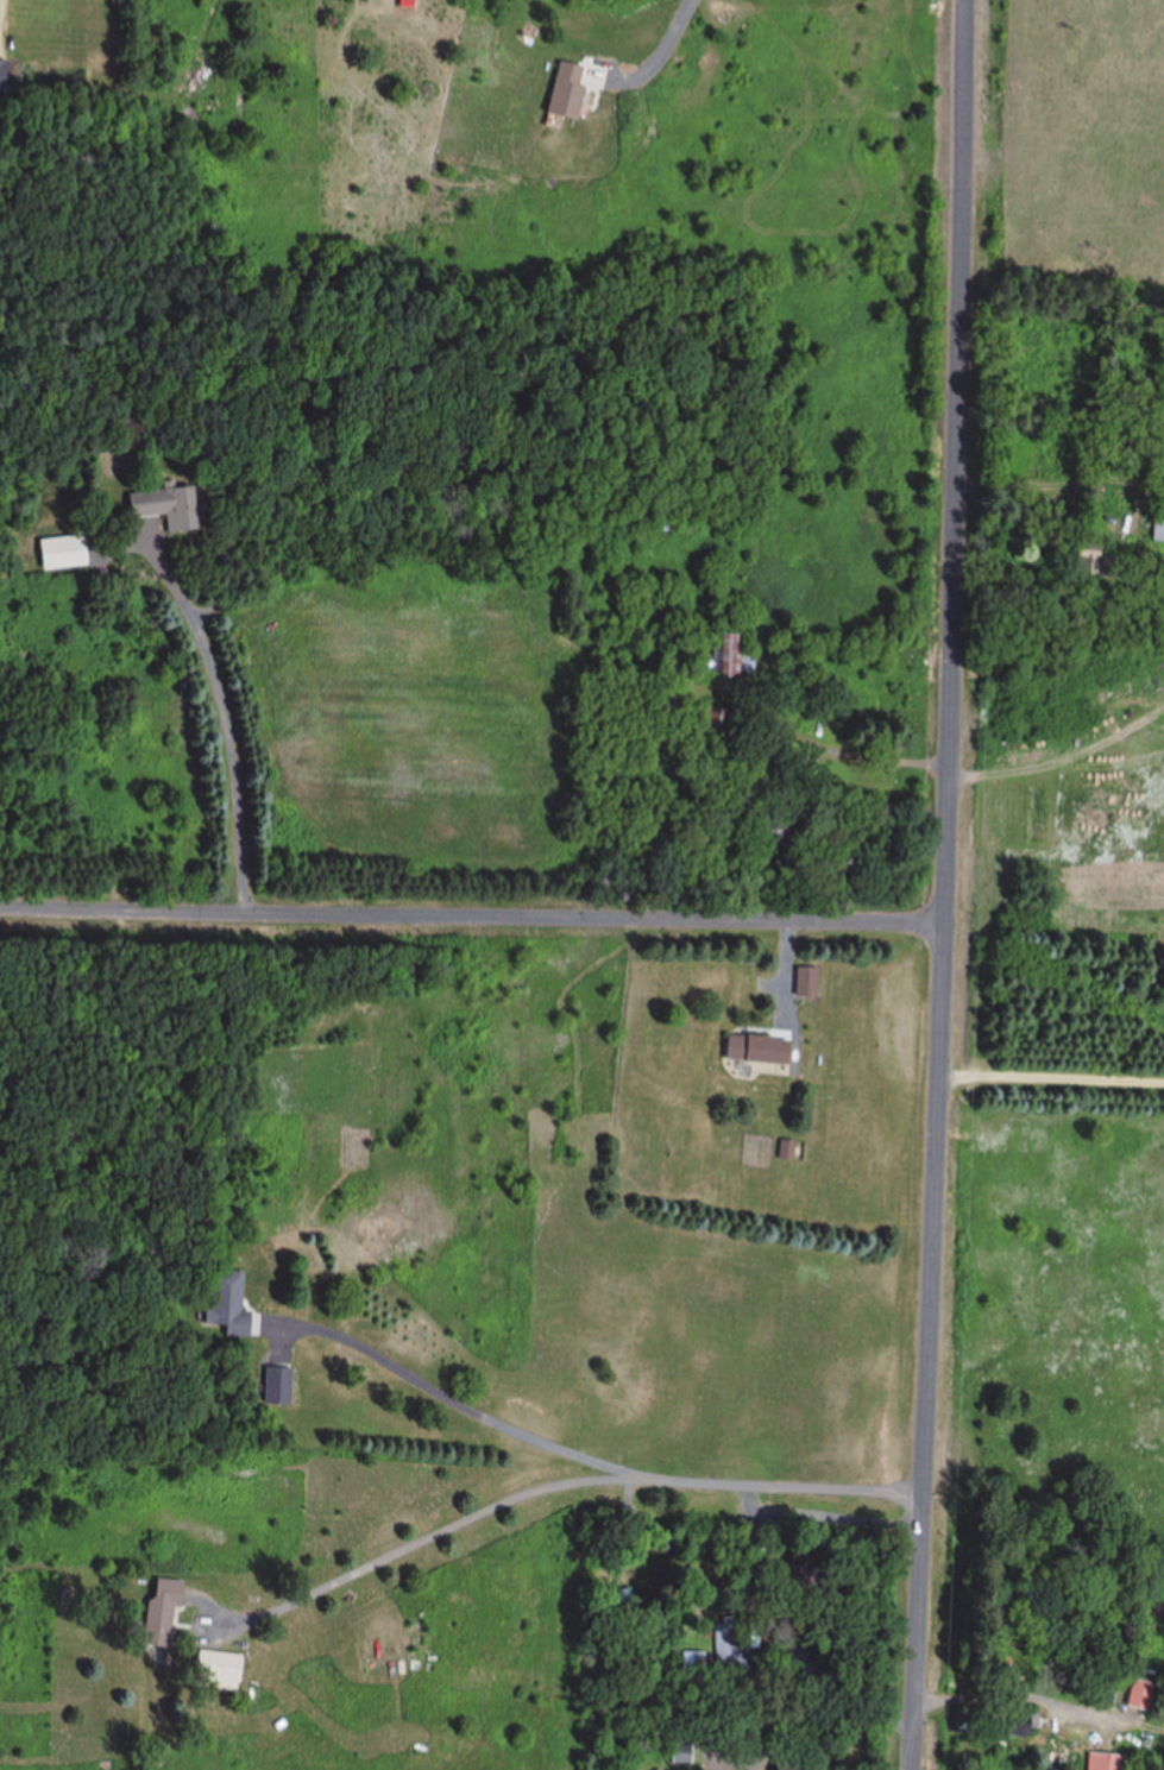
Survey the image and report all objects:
building: (0, 84)
building: (562, 90)
building: (164, 508)
building: (663, 518)
building: (62, 553)
building: (1083, 562)
building: (730, 659)
building: (778, 832)
road: (948, 884)
road: (473, 919)
building: (808, 983)
building: (756, 1050)
building: (227, 1305)
building: (277, 1387)
building: (627, 1522)
building: (623, 1607)
building: (159, 1612)
building: (732, 1648)
building: (699, 1663)
building: (214, 1671)
building: (1138, 1695)
building: (1019, 1726)
building: (1106, 1762)
building: (786, 1766)

